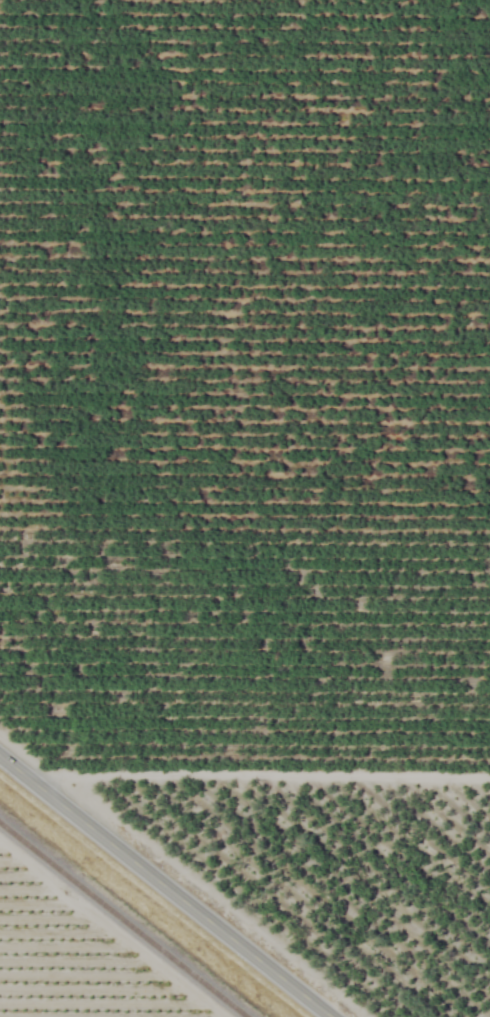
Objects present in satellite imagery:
crop: (245, 508)
road: (254, 777)
road: (164, 887)
railway: (122, 920)

